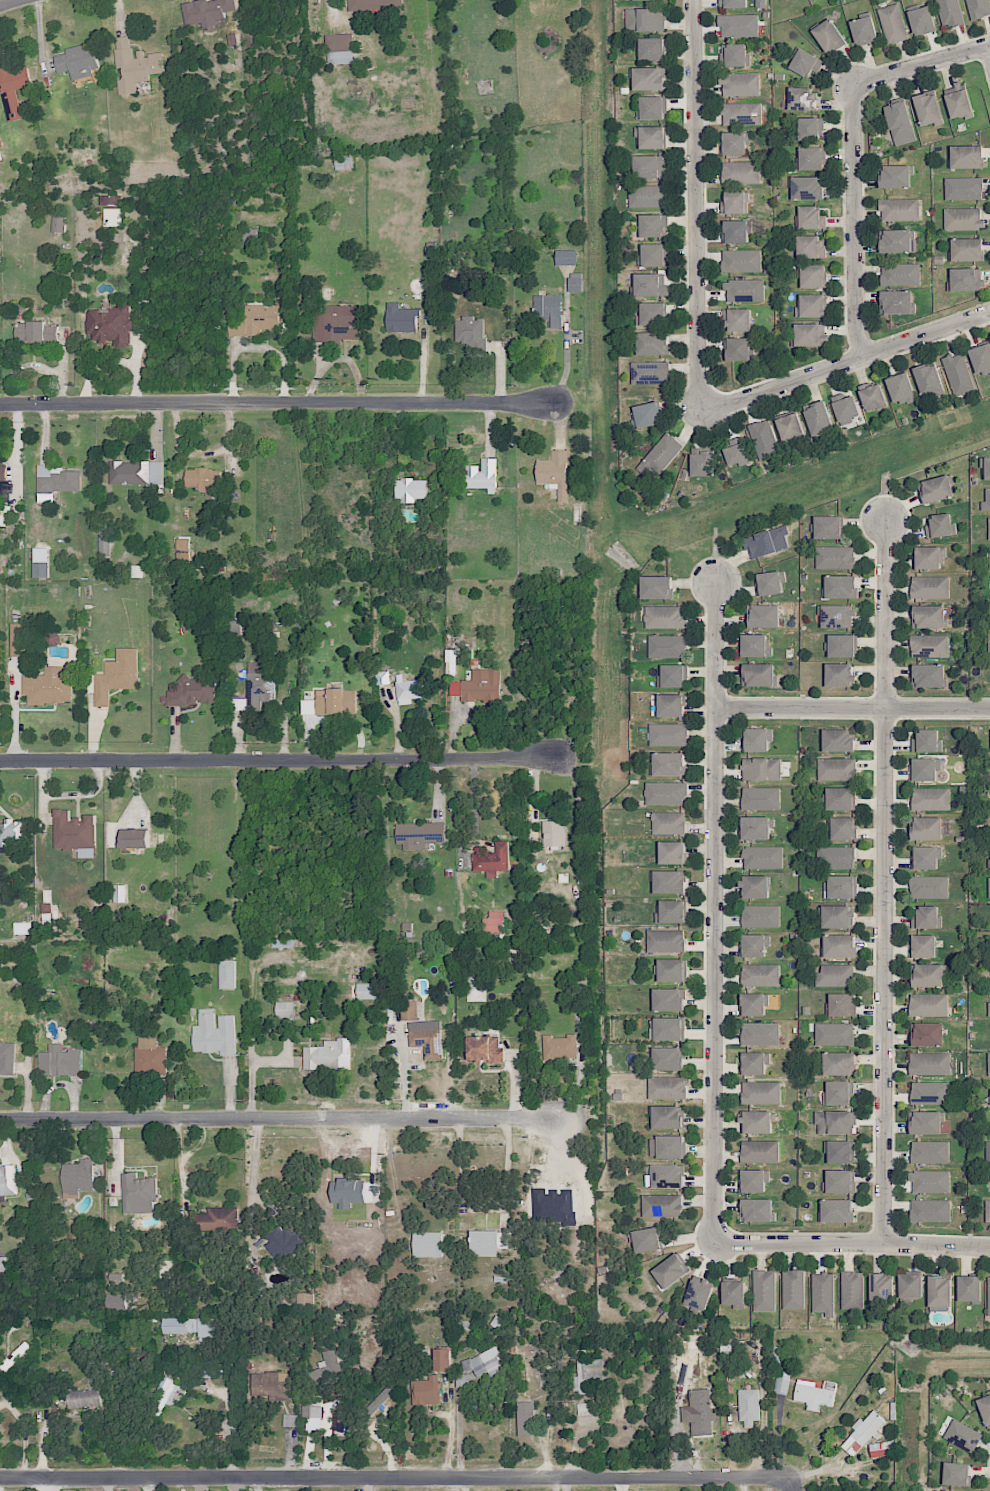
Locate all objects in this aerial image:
building: (640, 0)
road: (8, 2)
road: (330, 3)
building: (373, 4)
building: (733, 4)
building: (978, 8)
building: (207, 11)
building: (949, 12)
building: (645, 20)
building: (922, 20)
building: (892, 23)
building: (738, 25)
building: (864, 30)
building: (829, 36)
building: (339, 48)
building: (652, 49)
building: (735, 55)
building: (77, 61)
building: (806, 63)
building: (134, 65)
building: (647, 78)
building: (740, 84)
building: (13, 88)
building: (802, 98)
building: (957, 100)
building: (650, 108)
building: (928, 109)
building: (741, 113)
building: (900, 122)
building: (808, 128)
building: (650, 136)
building: (734, 143)
road: (853, 150)
building: (0, 151)
building: (966, 156)
building: (810, 158)
building: (343, 162)
building: (647, 167)
building: (740, 172)
building: (895, 176)
building: (807, 187)
building: (963, 188)
building: (647, 195)
building: (734, 202)
road: (696, 203)
building: (899, 209)
building: (810, 217)
building: (963, 219)
building: (653, 225)
building: (735, 231)
building: (248, 236)
building: (897, 241)
building: (810, 247)
building: (652, 255)
building: (565, 257)
building: (741, 260)
building: (900, 274)
building: (813, 276)
building: (965, 279)
building: (575, 281)
building: (649, 285)
building: (744, 290)
building: (897, 302)
building: (812, 305)
building: (549, 309)
building: (651, 314)
building: (401, 318)
building: (255, 320)
building: (739, 320)
building: (336, 324)
building: (111, 325)
building: (35, 331)
building: (471, 333)
building: (810, 334)
building: (653, 343)
building: (737, 349)
building: (981, 359)
road: (848, 362)
building: (649, 373)
building: (958, 374)
building: (929, 379)
building: (900, 388)
building: (872, 395)
road: (275, 406)
building: (845, 407)
building: (647, 414)
building: (818, 419)
building: (790, 427)
building: (763, 439)
building: (736, 450)
building: (662, 453)
building: (702, 463)
building: (986, 468)
building: (135, 472)
building: (554, 472)
building: (2, 473)
building: (482, 475)
building: (203, 479)
building: (55, 482)
building: (410, 489)
building: (936, 489)
building: (986, 500)
building: (939, 525)
building: (828, 527)
building: (989, 528)
building: (767, 542)
building: (103, 543)
building: (183, 550)
building: (835, 557)
building: (929, 557)
building: (989, 557)
building: (40, 562)
building: (768, 583)
building: (840, 586)
building: (930, 586)
building: (657, 587)
building: (763, 616)
building: (837, 616)
building: (928, 616)
building: (665, 617)
building: (18, 639)
building: (755, 645)
building: (842, 645)
building: (930, 645)
building: (667, 646)
building: (989, 646)
building: (758, 674)
building: (839, 674)
building: (116, 675)
building: (928, 675)
building: (382, 676)
building: (671, 676)
building: (48, 686)
building: (478, 686)
building: (256, 688)
building: (410, 690)
building: (192, 691)
building: (330, 702)
building: (670, 705)
road: (853, 708)
building: (668, 734)
building: (755, 739)
building: (838, 740)
building: (927, 741)
road: (281, 761)
building: (668, 764)
building: (761, 769)
building: (837, 769)
building: (927, 769)
building: (665, 793)
building: (761, 798)
building: (840, 798)
building: (931, 798)
building: (668, 822)
building: (755, 828)
building: (842, 828)
building: (926, 828)
building: (10, 832)
building: (74, 833)
building: (553, 833)
building: (419, 834)
road: (474, 836)
building: (135, 838)
building: (672, 852)
building: (762, 857)
building: (836, 857)
building: (924, 857)
building: (492, 860)
road: (884, 881)
building: (669, 882)
building: (755, 886)
building: (840, 886)
building: (928, 887)
building: (120, 893)
building: (46, 907)
building: (670, 911)
road: (715, 911)
building: (760, 915)
building: (837, 916)
building: (927, 917)
building: (494, 922)
building: (23, 928)
building: (665, 940)
building: (754, 945)
building: (839, 945)
building: (923, 946)
building: (671, 970)
building: (226, 974)
building: (761, 974)
building: (835, 975)
building: (928, 975)
building: (367, 991)
building: (669, 999)
building: (752, 1004)
building: (928, 1004)
building: (842, 1005)
building: (285, 1009)
building: (988, 1009)
building: (408, 1010)
building: (668, 1028)
building: (214, 1033)
building: (760, 1033)
building: (834, 1033)
building: (927, 1034)
building: (426, 1038)
building: (559, 1047)
building: (485, 1049)
building: (328, 1055)
building: (149, 1056)
building: (7, 1057)
building: (667, 1058)
building: (60, 1061)
building: (753, 1063)
building: (839, 1063)
building: (988, 1063)
building: (929, 1064)
building: (667, 1087)
building: (761, 1092)
building: (930, 1092)
building: (837, 1093)
building: (667, 1117)
building: (756, 1121)
building: (835, 1122)
building: (925, 1122)
road: (280, 1123)
building: (666, 1146)
building: (759, 1151)
building: (840, 1151)
building: (930, 1152)
building: (987, 1152)
building: (78, 1176)
building: (665, 1176)
building: (752, 1180)
building: (7, 1181)
road: (252, 1181)
building: (838, 1181)
building: (929, 1181)
building: (138, 1193)
building: (661, 1205)
road: (487, 1208)
building: (757, 1210)
building: (837, 1210)
building: (930, 1210)
building: (987, 1210)
building: (219, 1219)
building: (646, 1239)
building: (490, 1241)
building: (285, 1242)
building: (427, 1244)
road: (855, 1244)
building: (671, 1270)
building: (910, 1286)
building: (881, 1288)
building: (969, 1288)
building: (793, 1289)
building: (851, 1289)
building: (764, 1290)
building: (699, 1292)
building: (823, 1293)
building: (940, 1293)
building: (734, 1294)
building: (988, 1295)
building: (116, 1301)
building: (305, 1302)
building: (190, 1326)
building: (22, 1348)
building: (442, 1359)
building: (484, 1363)
building: (206, 1370)
building: (587, 1370)
building: (327, 1373)
building: (462, 1380)
building: (782, 1383)
building: (425, 1391)
building: (815, 1394)
building: (165, 1395)
building: (83, 1398)
building: (379, 1399)
building: (748, 1405)
building: (985, 1409)
building: (311, 1411)
building: (699, 1412)
building: (525, 1418)
building: (289, 1420)
building: (863, 1432)
road: (22, 1433)
building: (963, 1435)
road: (458, 1437)
building: (881, 1449)
road: (813, 1470)
building: (956, 1473)
road: (396, 1476)
road: (789, 1488)

